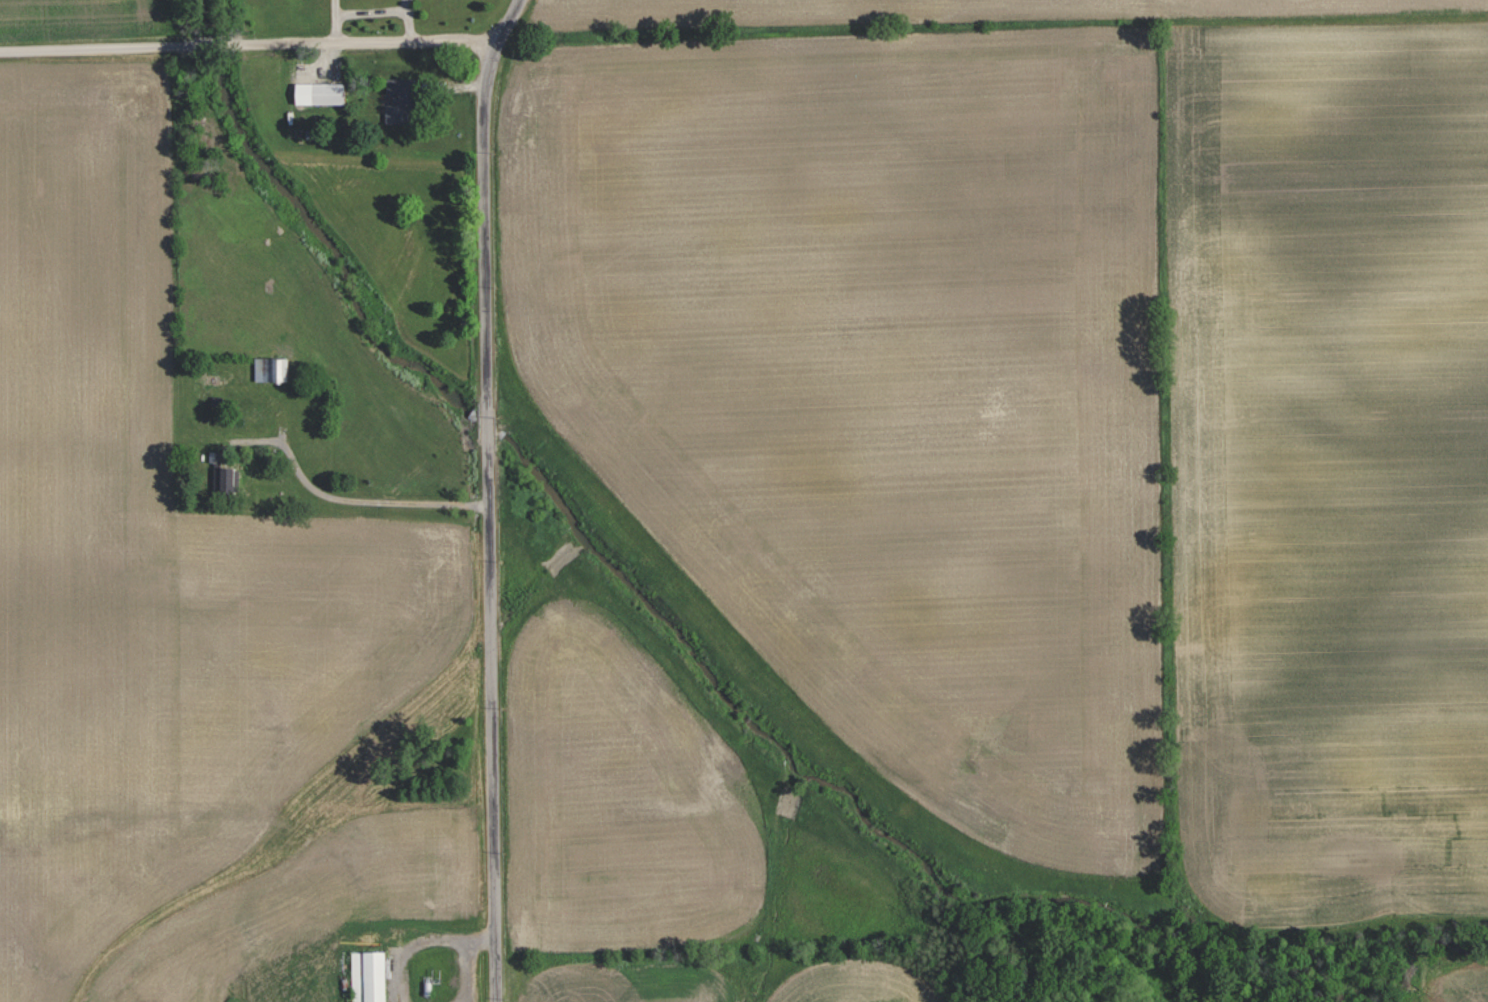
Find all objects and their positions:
road: (380, 12)
road: (335, 19)
road: (246, 39)
building: (328, 94)
building: (401, 101)
building: (272, 370)
building: (230, 480)
road: (488, 497)
road: (384, 502)
road: (471, 960)
building: (369, 975)

